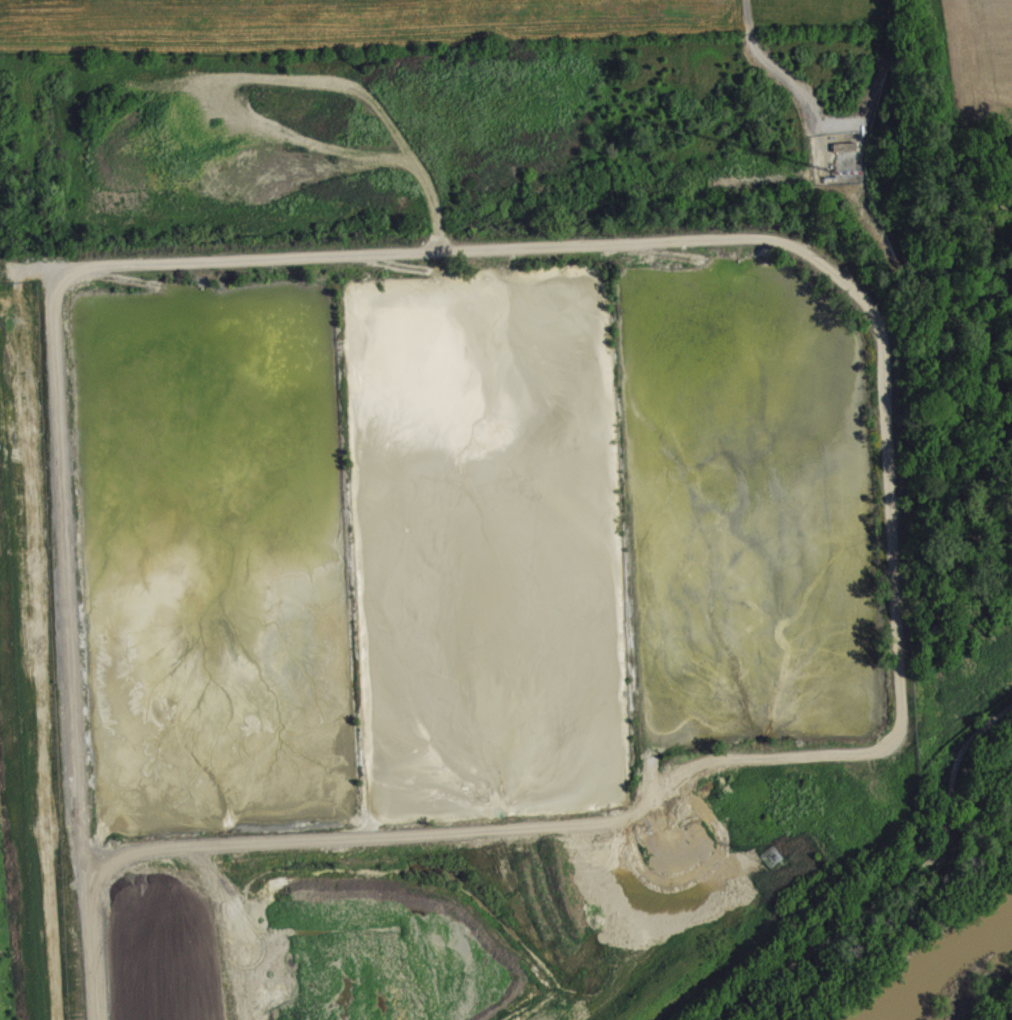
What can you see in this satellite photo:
road: (786, 80)
building: (843, 145)
road: (811, 255)
power tower: (773, 858)
road: (899, 888)
road: (89, 945)

